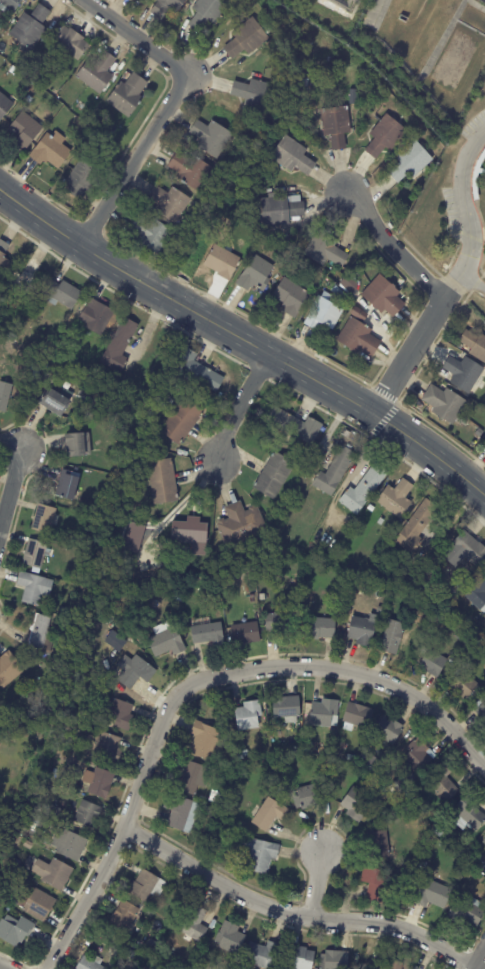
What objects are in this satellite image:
building: (133, 0)
building: (9, 6)
building: (167, 7)
building: (208, 13)
building: (30, 28)
building: (247, 38)
building: (70, 41)
building: (13, 70)
building: (97, 72)
building: (304, 84)
building: (129, 95)
building: (255, 95)
building: (29, 99)
building: (4, 105)
road: (168, 107)
building: (337, 126)
parking lot: (471, 126)
building: (25, 131)
building: (386, 137)
building: (211, 138)
building: (50, 151)
building: (293, 156)
building: (413, 163)
building: (189, 170)
building: (83, 176)
building: (170, 203)
building: (281, 211)
parking lot: (450, 212)
road: (466, 215)
building: (152, 233)
road: (395, 249)
building: (327, 250)
building: (3, 255)
building: (223, 262)
building: (392, 271)
building: (256, 275)
building: (22, 280)
road: (473, 282)
building: (64, 292)
building: (382, 296)
building: (292, 297)
building: (346, 297)
building: (348, 309)
building: (358, 313)
building: (324, 314)
building: (96, 317)
building: (359, 338)
road: (244, 340)
building: (475, 344)
building: (119, 345)
road: (408, 357)
building: (196, 369)
building: (465, 372)
building: (4, 393)
building: (129, 396)
building: (54, 400)
building: (117, 401)
building: (445, 403)
road: (238, 407)
building: (182, 420)
building: (295, 425)
building: (465, 439)
building: (75, 444)
building: (334, 472)
building: (274, 475)
road: (11, 477)
building: (163, 480)
building: (68, 484)
building: (364, 489)
building: (397, 498)
building: (371, 508)
building: (44, 518)
building: (381, 521)
building: (241, 523)
building: (417, 525)
building: (396, 526)
building: (189, 534)
building: (133, 538)
building: (466, 550)
building: (32, 553)
building: (35, 587)
building: (478, 591)
building: (182, 596)
building: (64, 610)
building: (484, 621)
building: (283, 624)
building: (322, 628)
building: (361, 629)
building: (38, 631)
building: (208, 632)
building: (245, 632)
building: (393, 636)
building: (466, 636)
building: (166, 641)
building: (423, 649)
building: (484, 649)
building: (119, 650)
building: (434, 663)
building: (8, 668)
building: (134, 671)
road: (194, 682)
building: (465, 685)
building: (5, 707)
building: (287, 707)
building: (324, 712)
building: (482, 712)
building: (120, 714)
building: (249, 715)
building: (359, 715)
building: (389, 729)
building: (16, 732)
building: (23, 732)
building: (206, 742)
building: (108, 747)
building: (327, 749)
building: (243, 754)
building: (418, 755)
building: (352, 758)
building: (370, 762)
building: (337, 766)
building: (192, 778)
building: (98, 781)
building: (444, 782)
building: (398, 787)
building: (225, 790)
building: (311, 796)
building: (217, 798)
building: (358, 804)
building: (178, 811)
building: (470, 811)
building: (55, 813)
building: (215, 813)
building: (270, 813)
building: (88, 814)
building: (224, 821)
building: (46, 822)
building: (221, 834)
building: (483, 842)
building: (69, 844)
building: (29, 845)
building: (379, 845)
building: (473, 853)
building: (261, 855)
building: (412, 868)
building: (53, 873)
building: (9, 875)
building: (376, 882)
building: (484, 884)
road: (315, 885)
building: (146, 886)
building: (433, 894)
building: (37, 903)
building: (467, 911)
road: (295, 913)
building: (125, 915)
building: (196, 924)
building: (15, 931)
building: (230, 939)
building: (121, 942)
building: (119, 951)
building: (264, 955)
building: (301, 958)
building: (335, 960)
road: (480, 961)
building: (90, 963)
building: (397, 965)
road: (1, 968)

